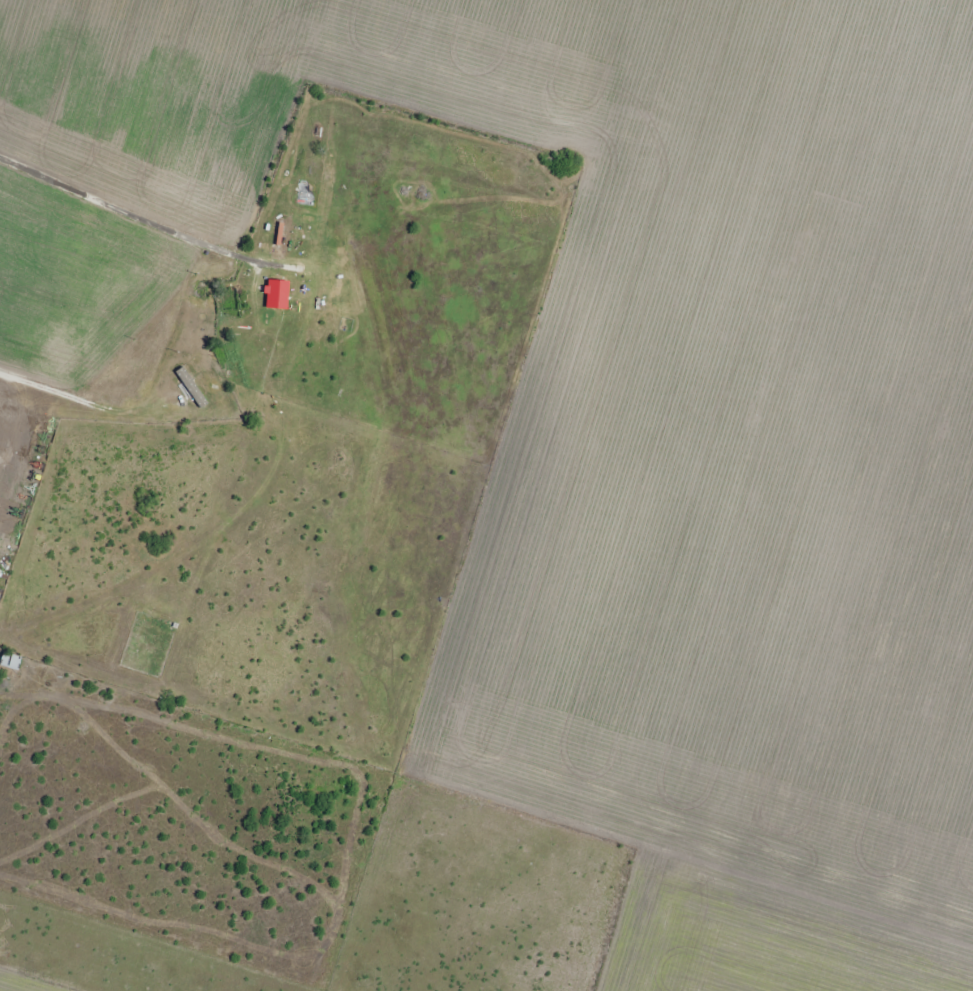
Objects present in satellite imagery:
road: (311, 379)
road: (107, 467)
building: (10, 661)

